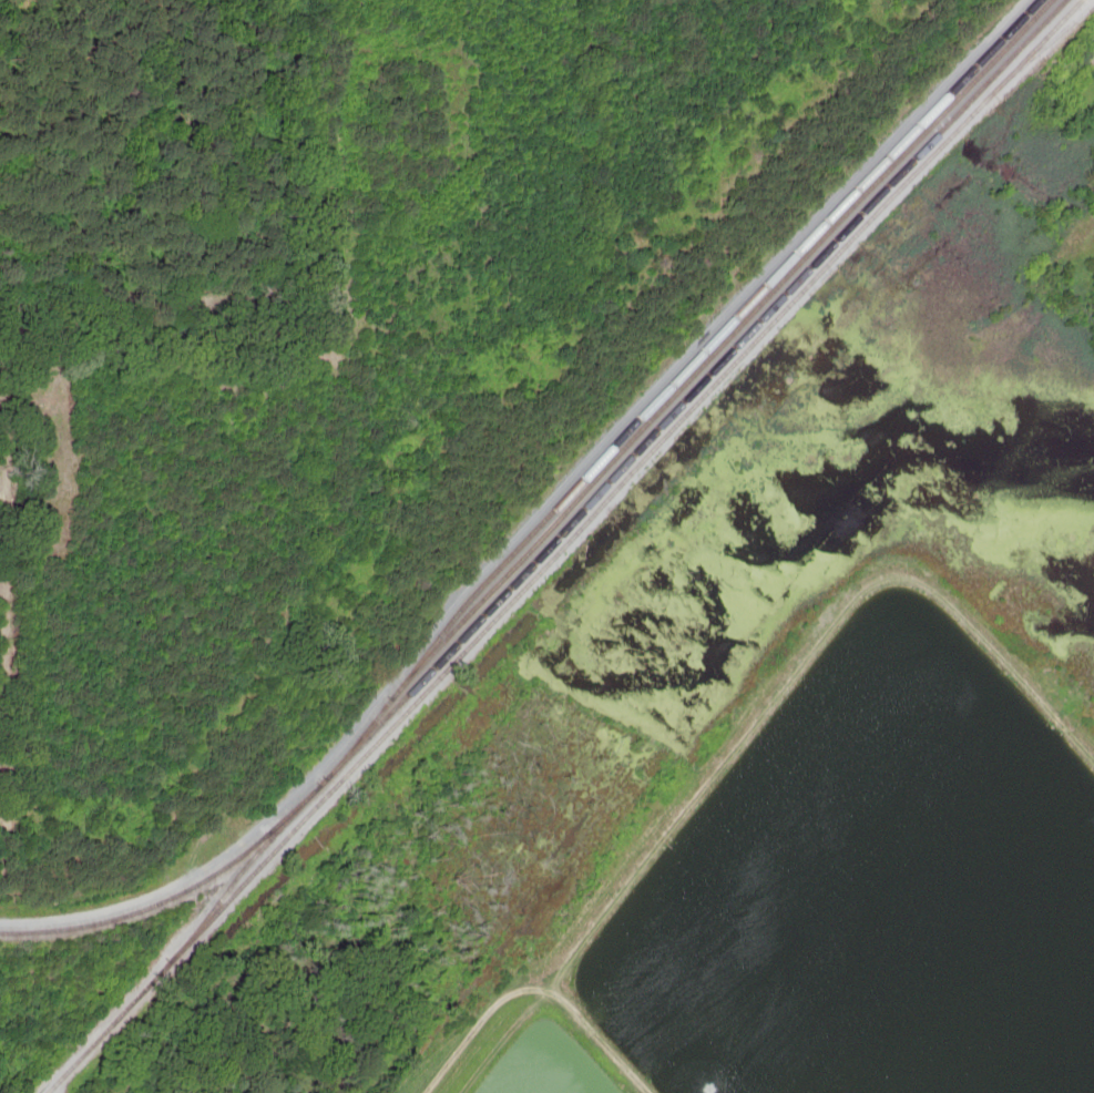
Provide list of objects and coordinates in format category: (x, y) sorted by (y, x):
railway: (554, 521)
railway: (559, 550)
building: (473, 596)

